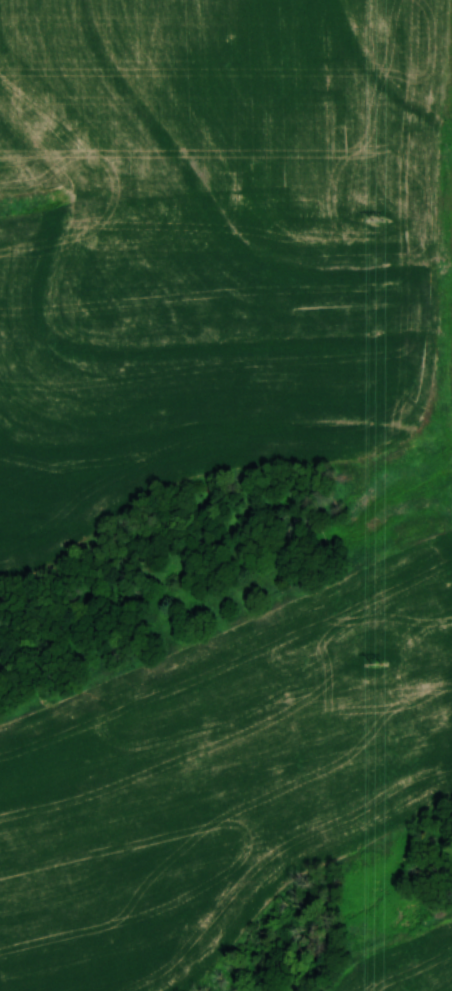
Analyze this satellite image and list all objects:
power tower: (378, 219)
power tower: (377, 657)

